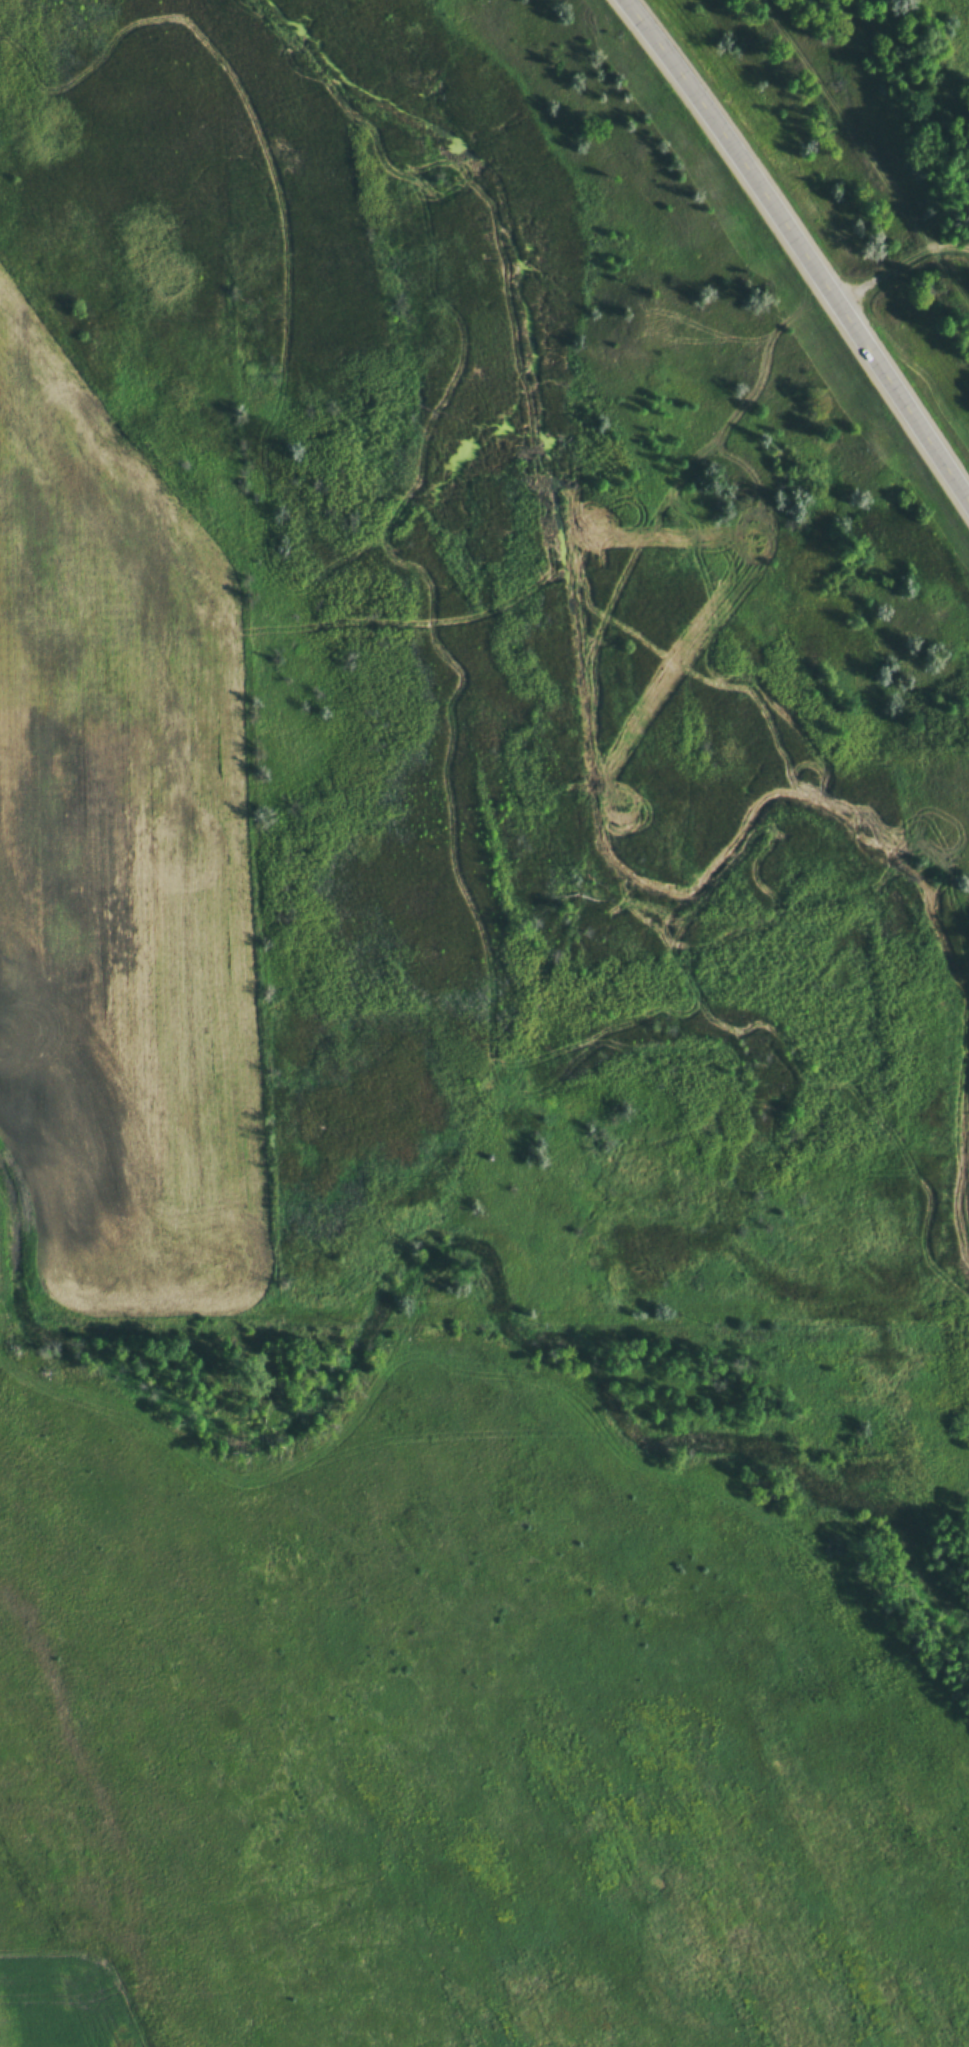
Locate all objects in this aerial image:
road: (865, 152)
road: (805, 240)

